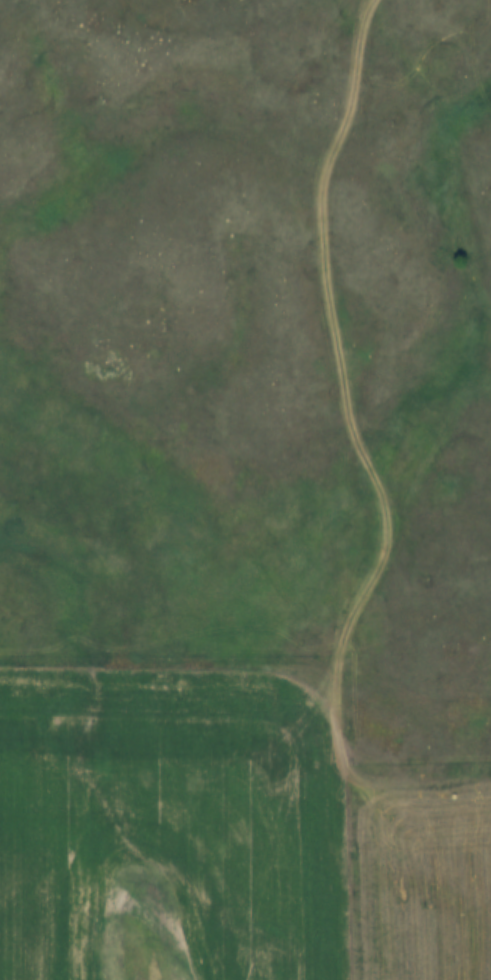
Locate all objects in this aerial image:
road: (403, 397)
road: (201, 738)

